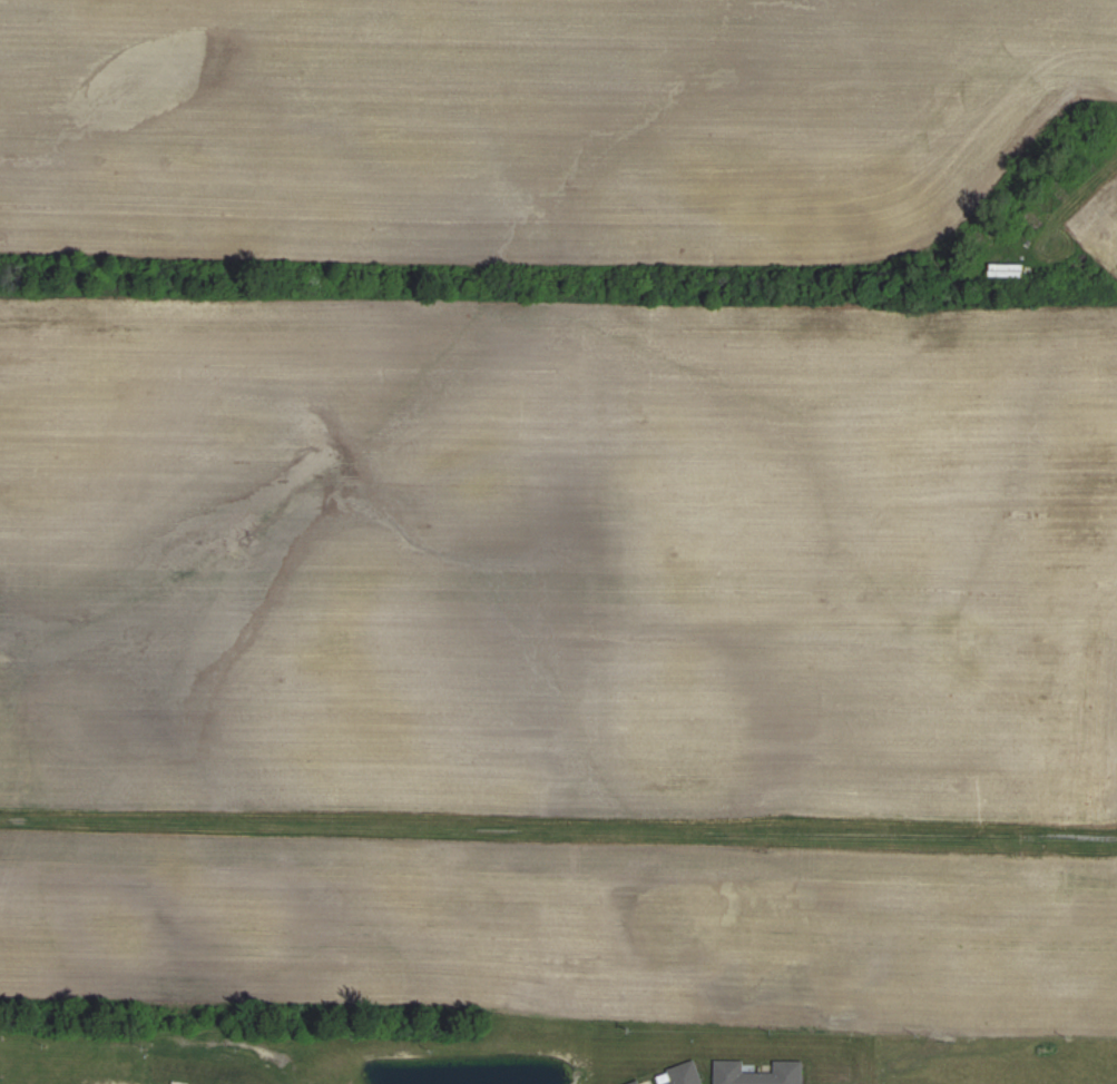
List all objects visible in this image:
building: (1008, 268)
building: (760, 1073)
building: (683, 1075)
building: (637, 1082)

